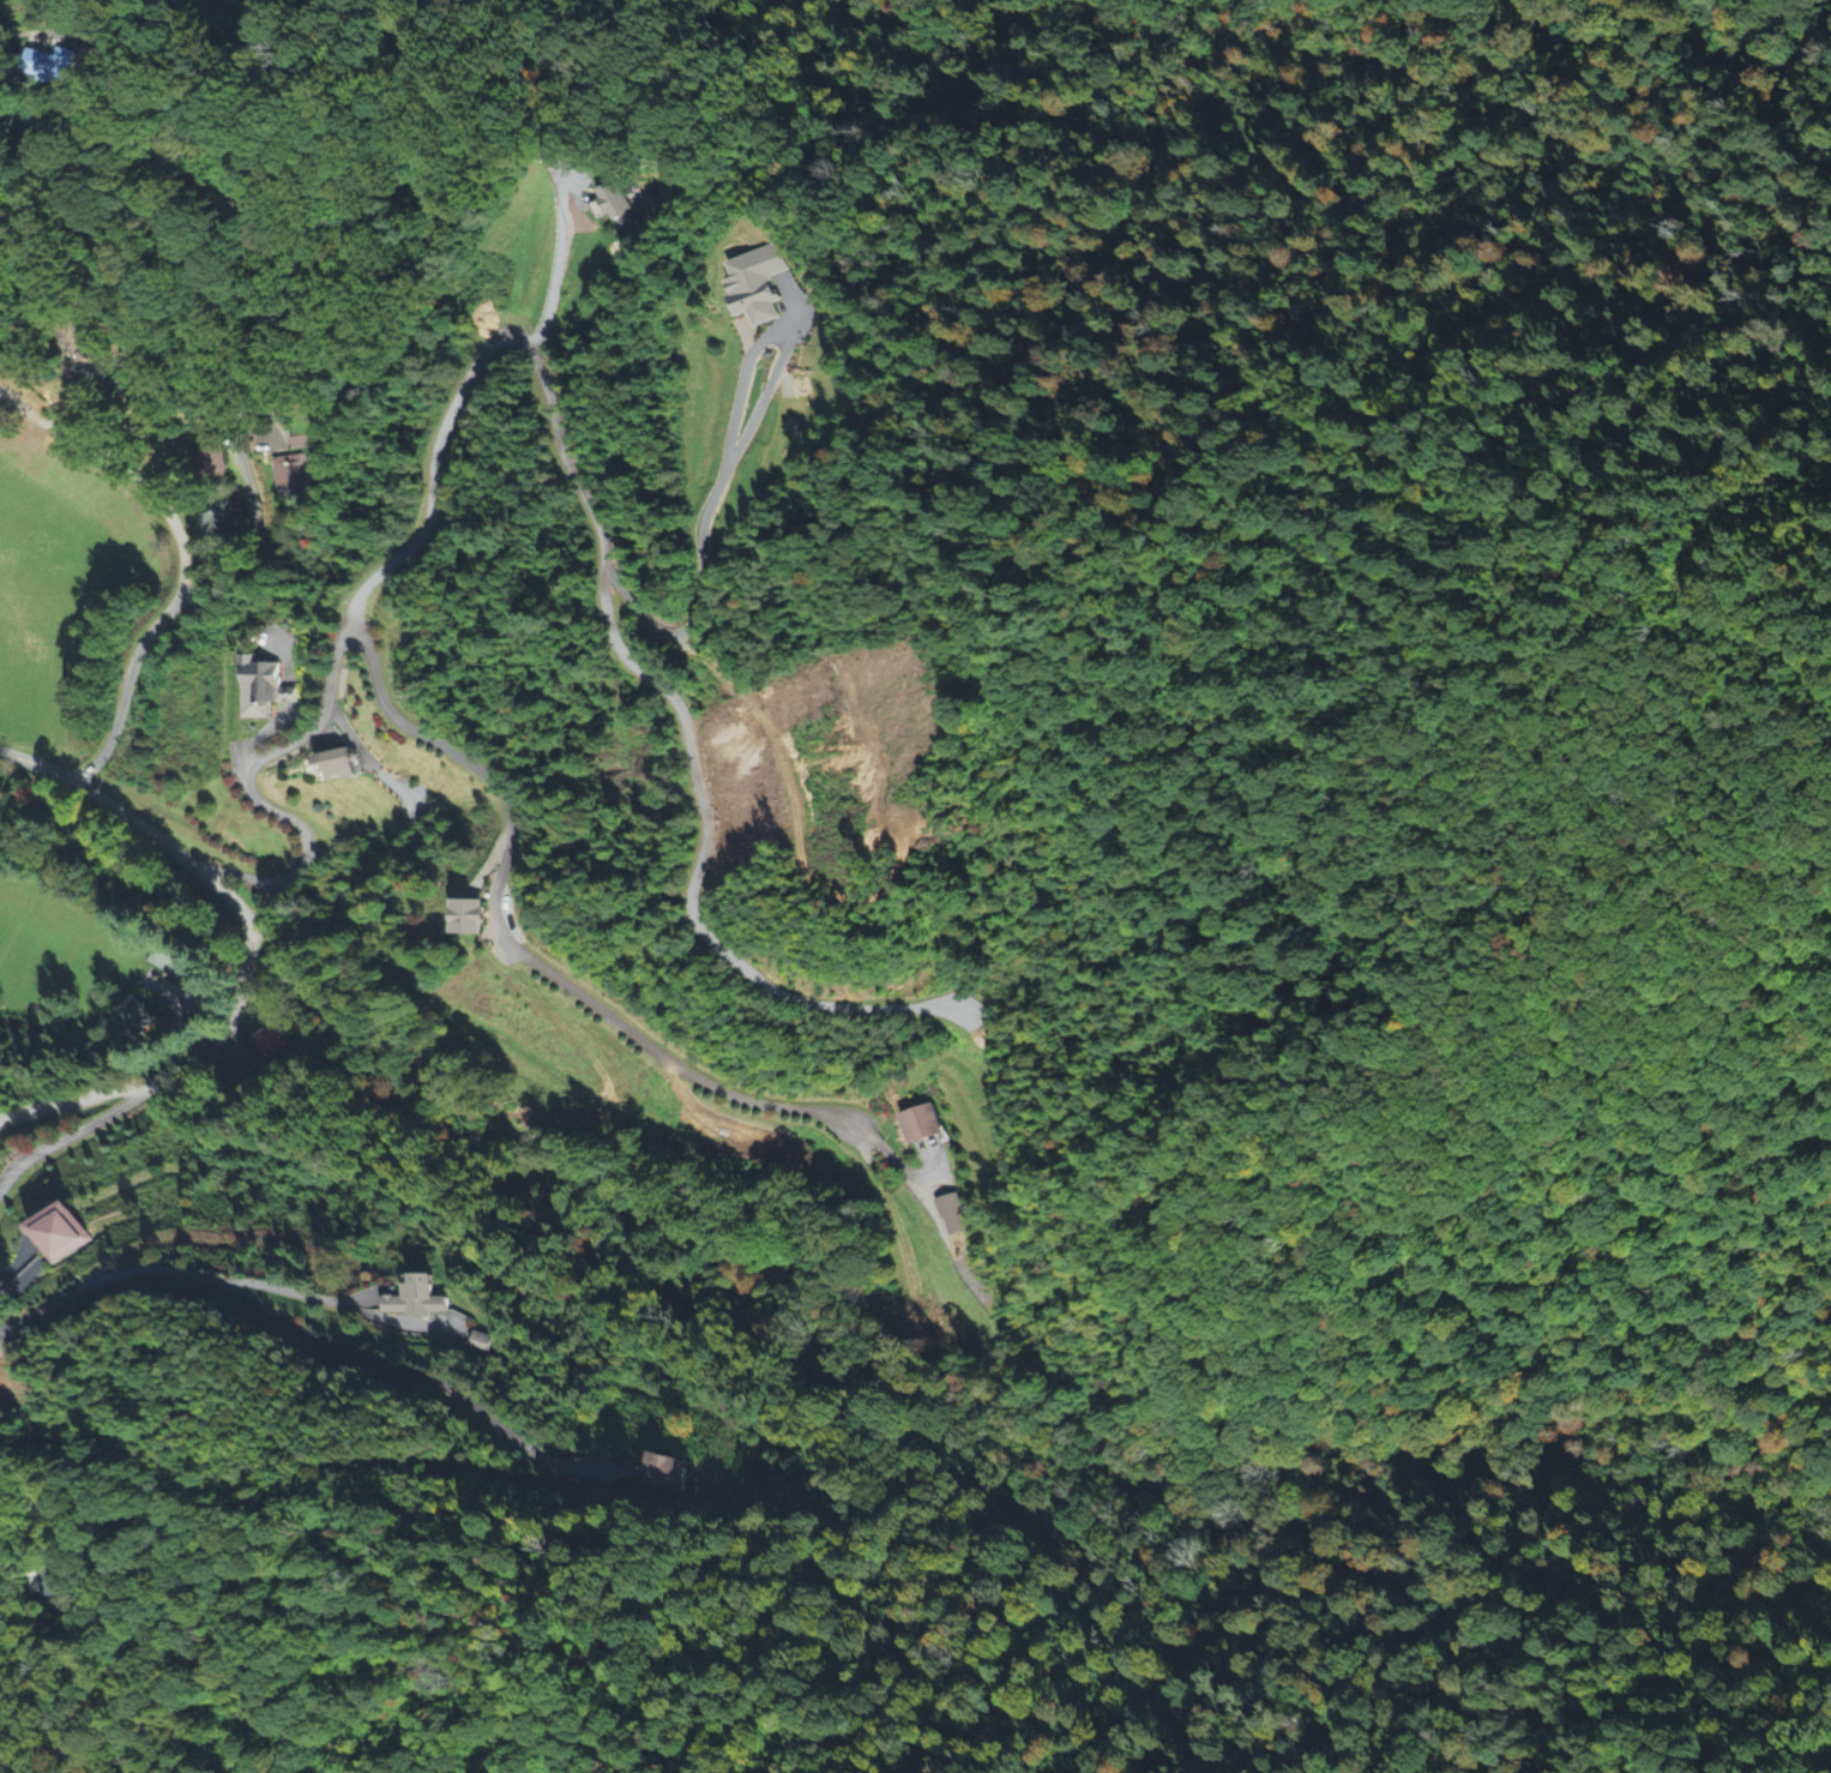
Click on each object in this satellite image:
road: (128, 64)
building: (613, 203)
road: (554, 265)
building: (755, 286)
road: (176, 350)
road: (549, 415)
building: (211, 459)
building: (291, 475)
building: (216, 523)
road: (181, 557)
building: (258, 689)
building: (337, 768)
building: (469, 920)
road: (510, 943)
road: (248, 950)
building: (171, 961)
building: (133, 1018)
road: (124, 1042)
building: (921, 1124)
road: (67, 1134)
building: (56, 1232)
building: (417, 1298)
road: (271, 1310)
building: (667, 1473)

